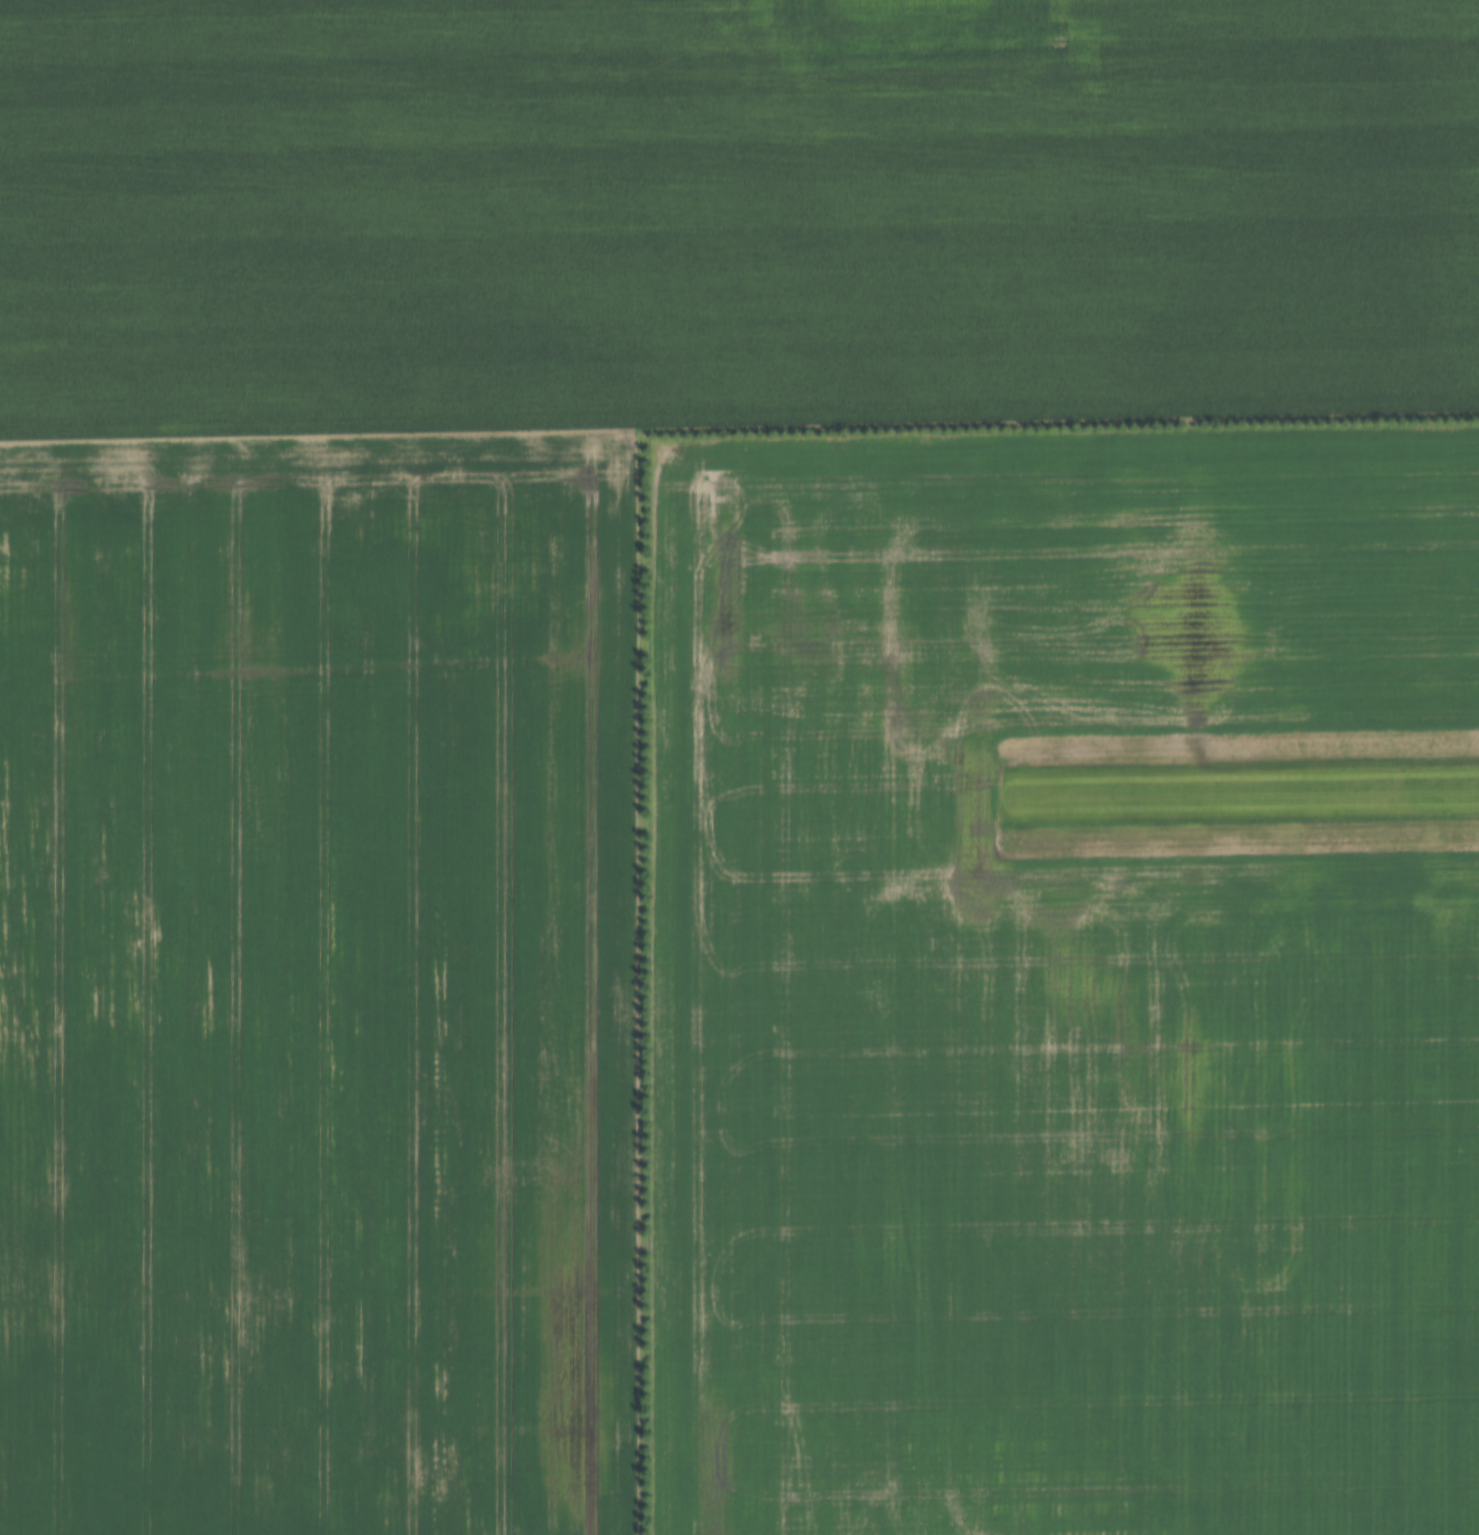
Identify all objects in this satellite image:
airport runway: (1246, 792)

